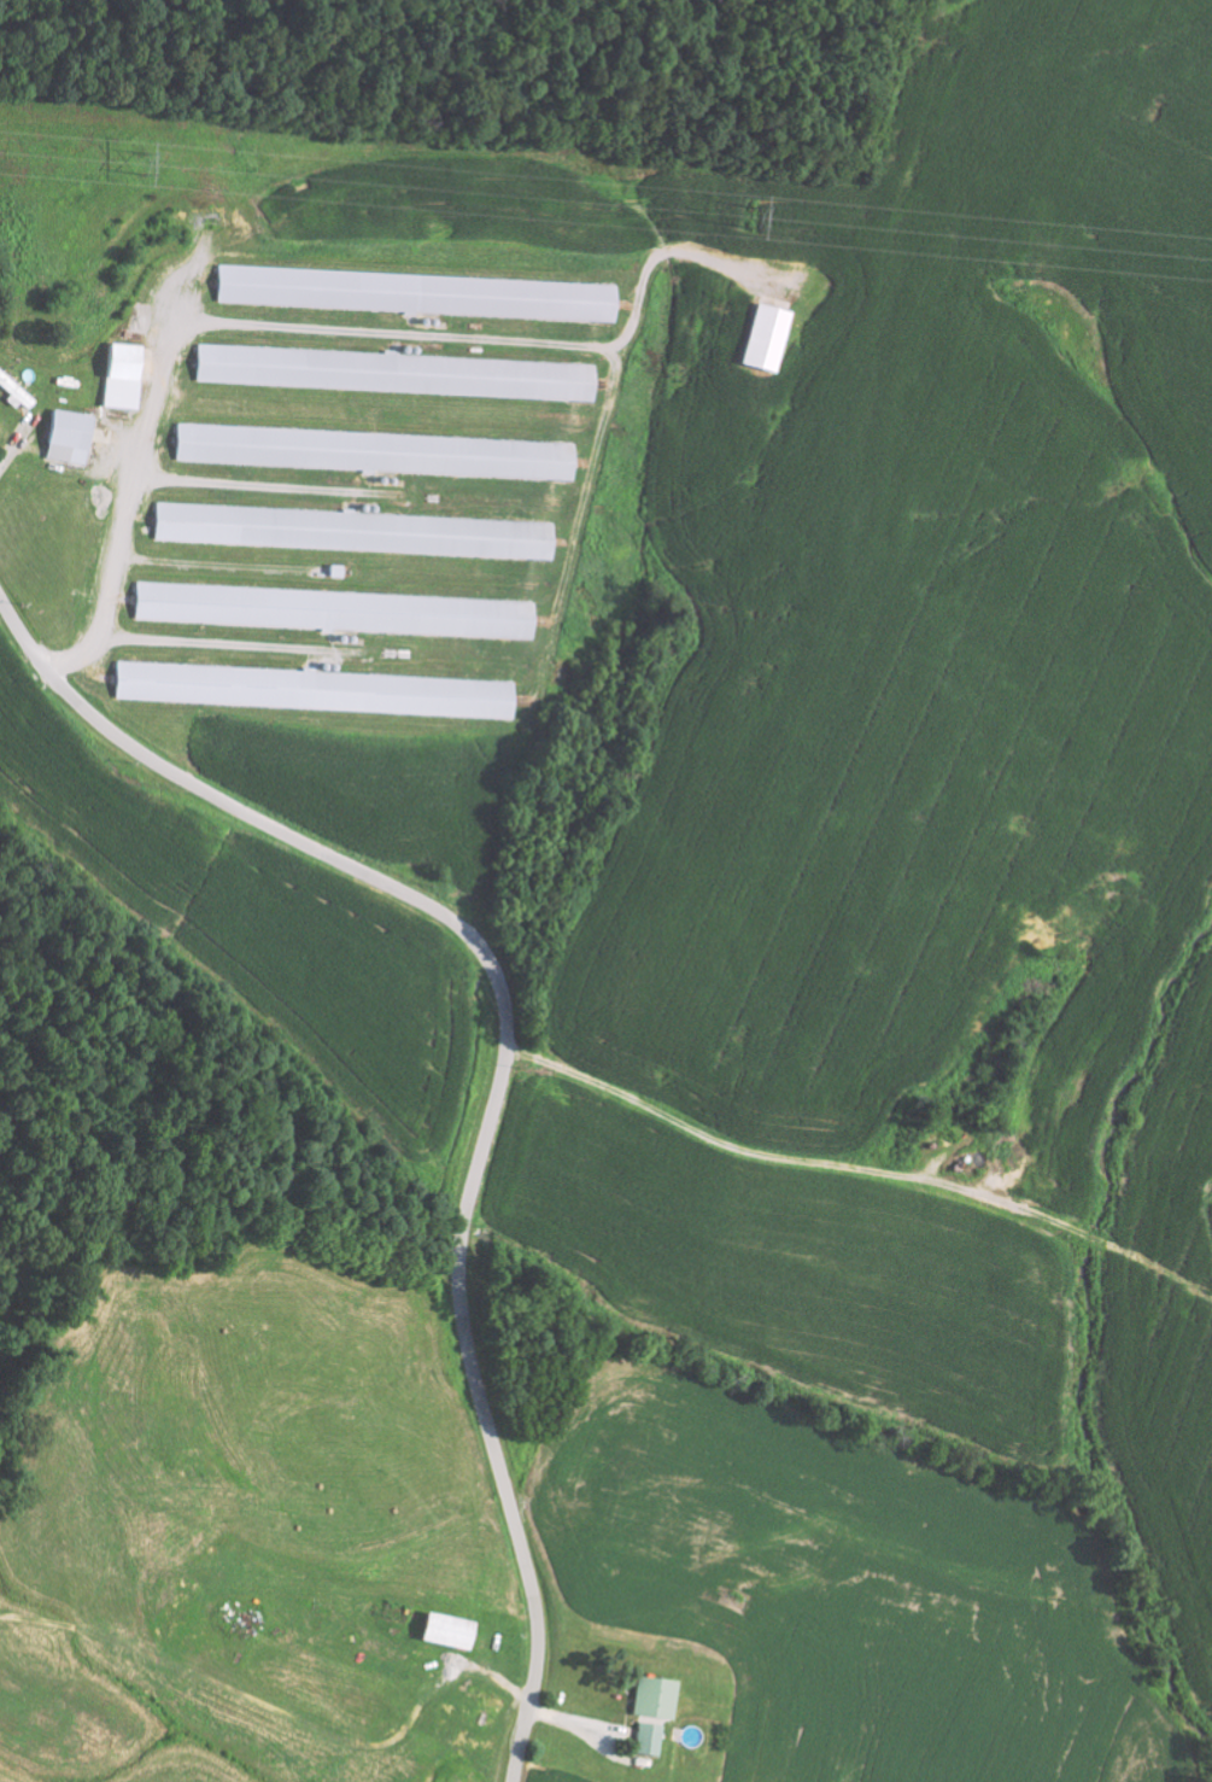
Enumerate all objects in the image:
power tower: (140, 165)
power tower: (749, 217)
building: (415, 293)
building: (763, 338)
building: (394, 373)
building: (121, 376)
building: (68, 437)
building: (373, 452)
building: (352, 531)
building: (333, 610)
building: (312, 690)
road: (504, 1067)
building: (444, 1630)
building: (652, 1696)
building: (646, 1739)

